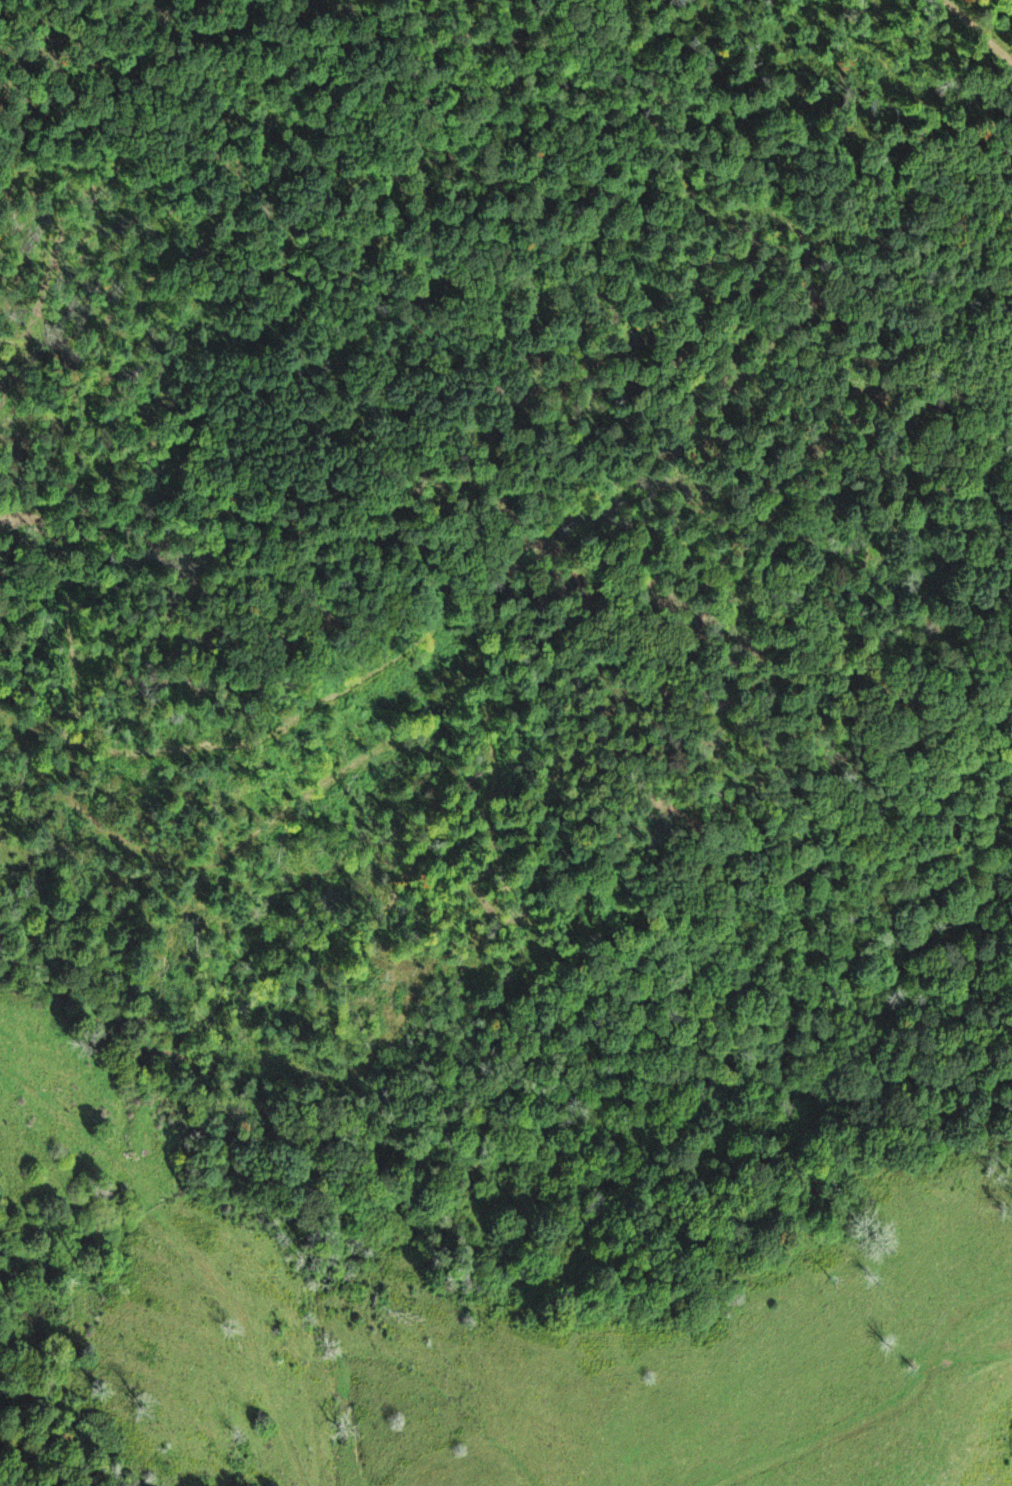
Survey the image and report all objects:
road: (971, 32)

